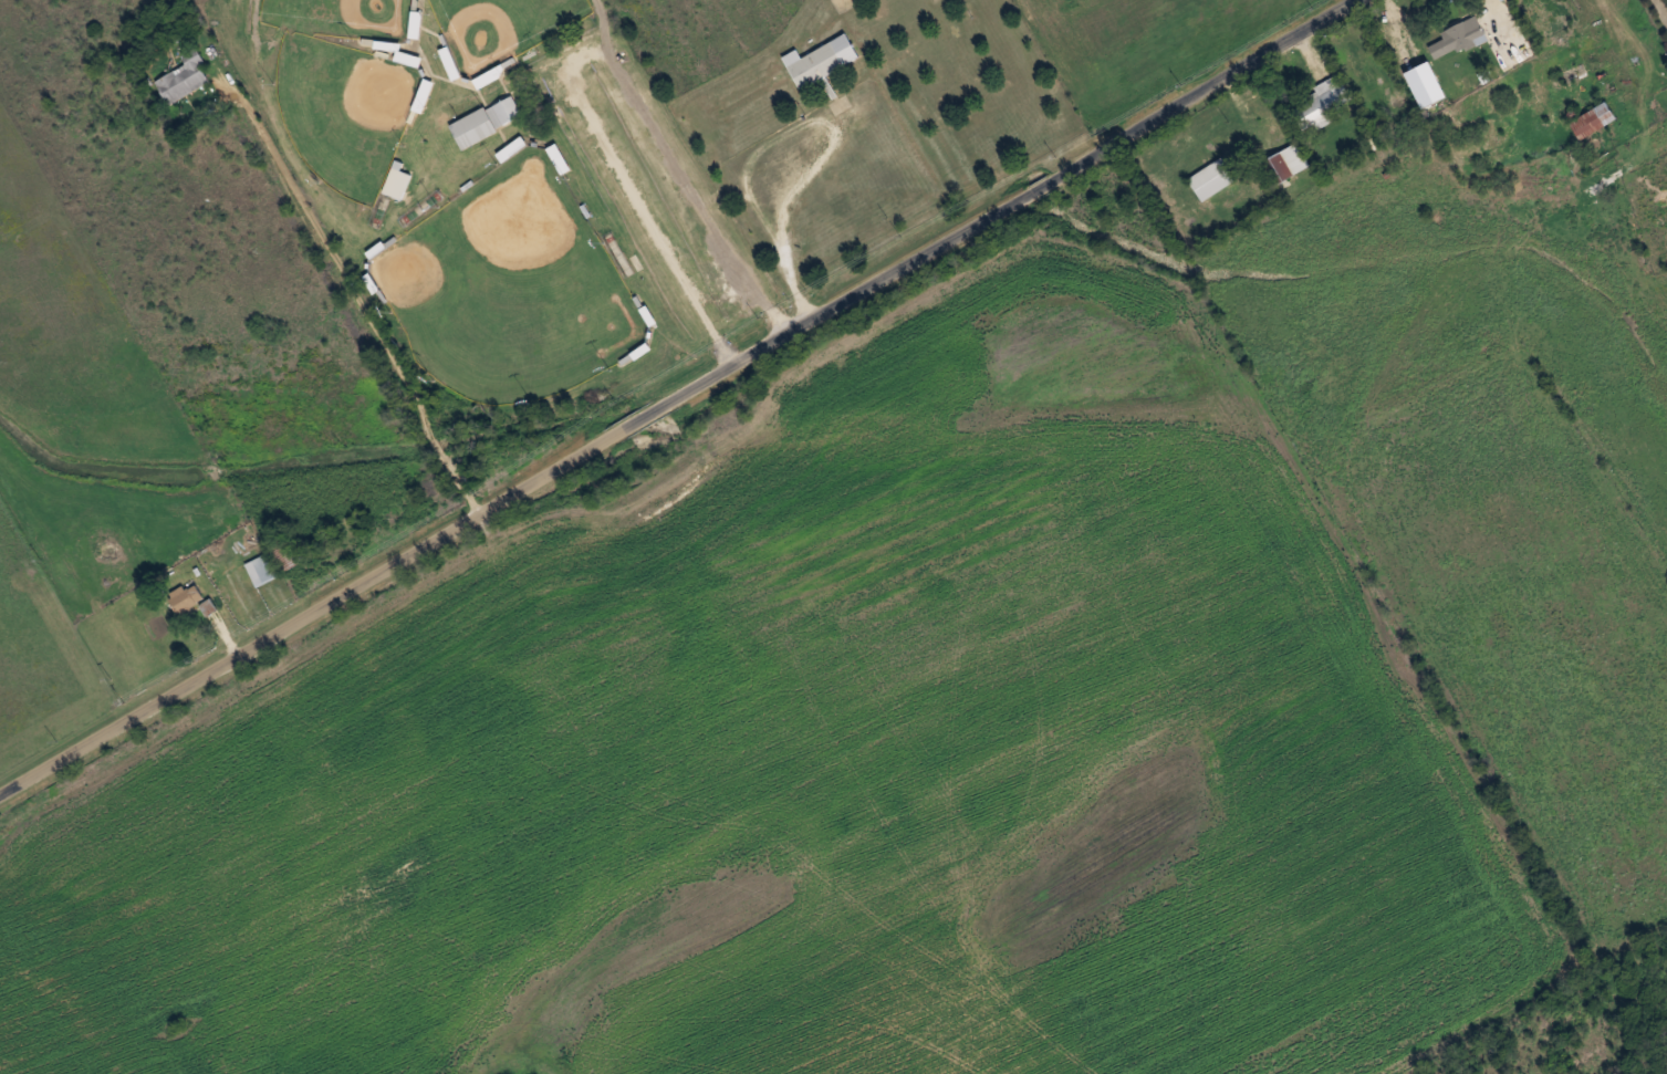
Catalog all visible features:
building: (416, 23)
building: (1458, 38)
building: (821, 60)
building: (183, 77)
road: (989, 87)
building: (1322, 101)
building: (1592, 119)
building: (486, 121)
building: (513, 147)
building: (559, 158)
building: (1284, 163)
building: (1207, 173)
road: (673, 385)
building: (262, 567)
building: (187, 595)
road: (28, 722)

